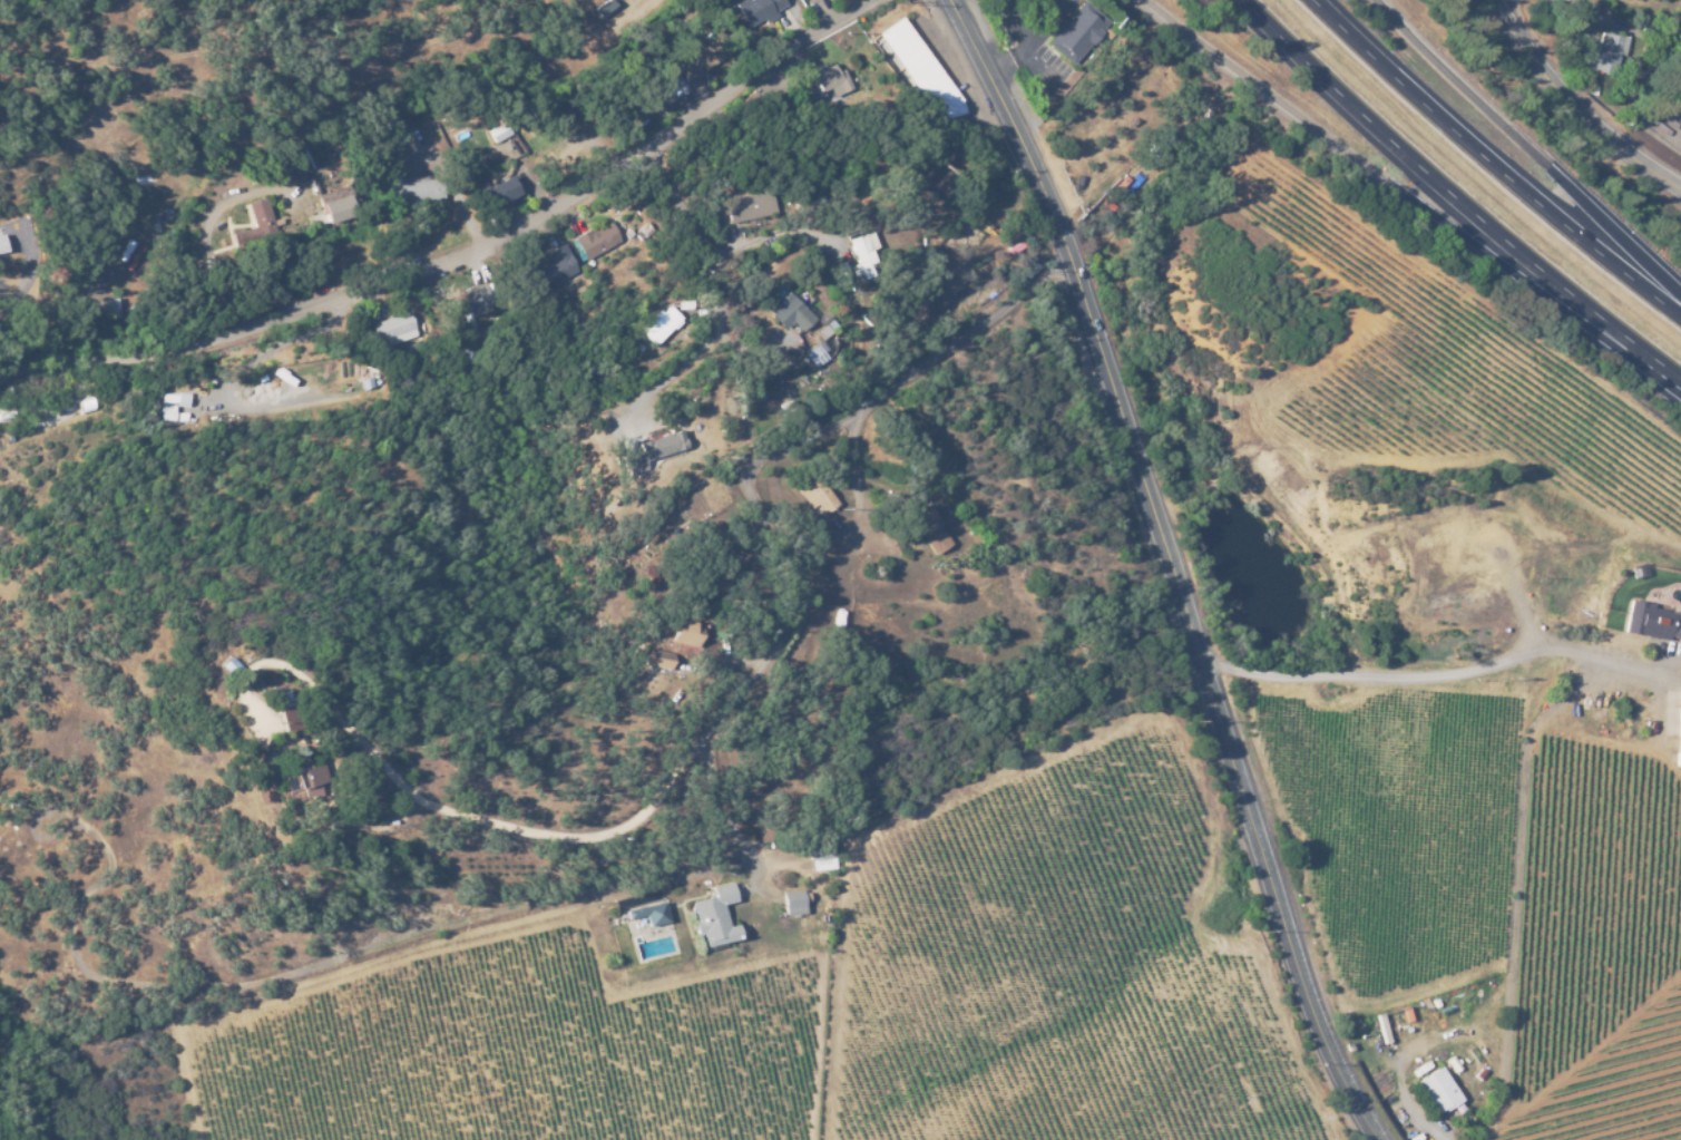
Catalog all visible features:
building: (756, 10)
building: (1075, 32)
building: (1607, 55)
building: (701, 57)
building: (921, 70)
building: (825, 80)
building: (1593, 89)
building: (648, 103)
road: (1575, 108)
building: (496, 127)
road: (1527, 147)
road: (1492, 164)
building: (411, 191)
building: (500, 192)
road: (1405, 202)
road: (1458, 202)
building: (333, 204)
building: (750, 206)
building: (255, 221)
building: (596, 240)
building: (862, 254)
road: (476, 260)
building: (553, 267)
building: (472, 296)
building: (786, 310)
building: (658, 323)
building: (394, 329)
building: (814, 355)
road: (423, 377)
building: (174, 398)
building: (166, 411)
building: (659, 445)
building: (815, 494)
building: (927, 528)
road: (1171, 566)
building: (648, 574)
building: (1564, 604)
building: (1466, 618)
building: (1650, 620)
building: (680, 631)
building: (658, 659)
road: (1449, 672)
road: (743, 686)
building: (281, 709)
building: (1678, 737)
road: (726, 811)
building: (819, 848)
building: (792, 902)
building: (649, 913)
building: (713, 916)
road: (1445, 1042)
building: (1436, 1092)

